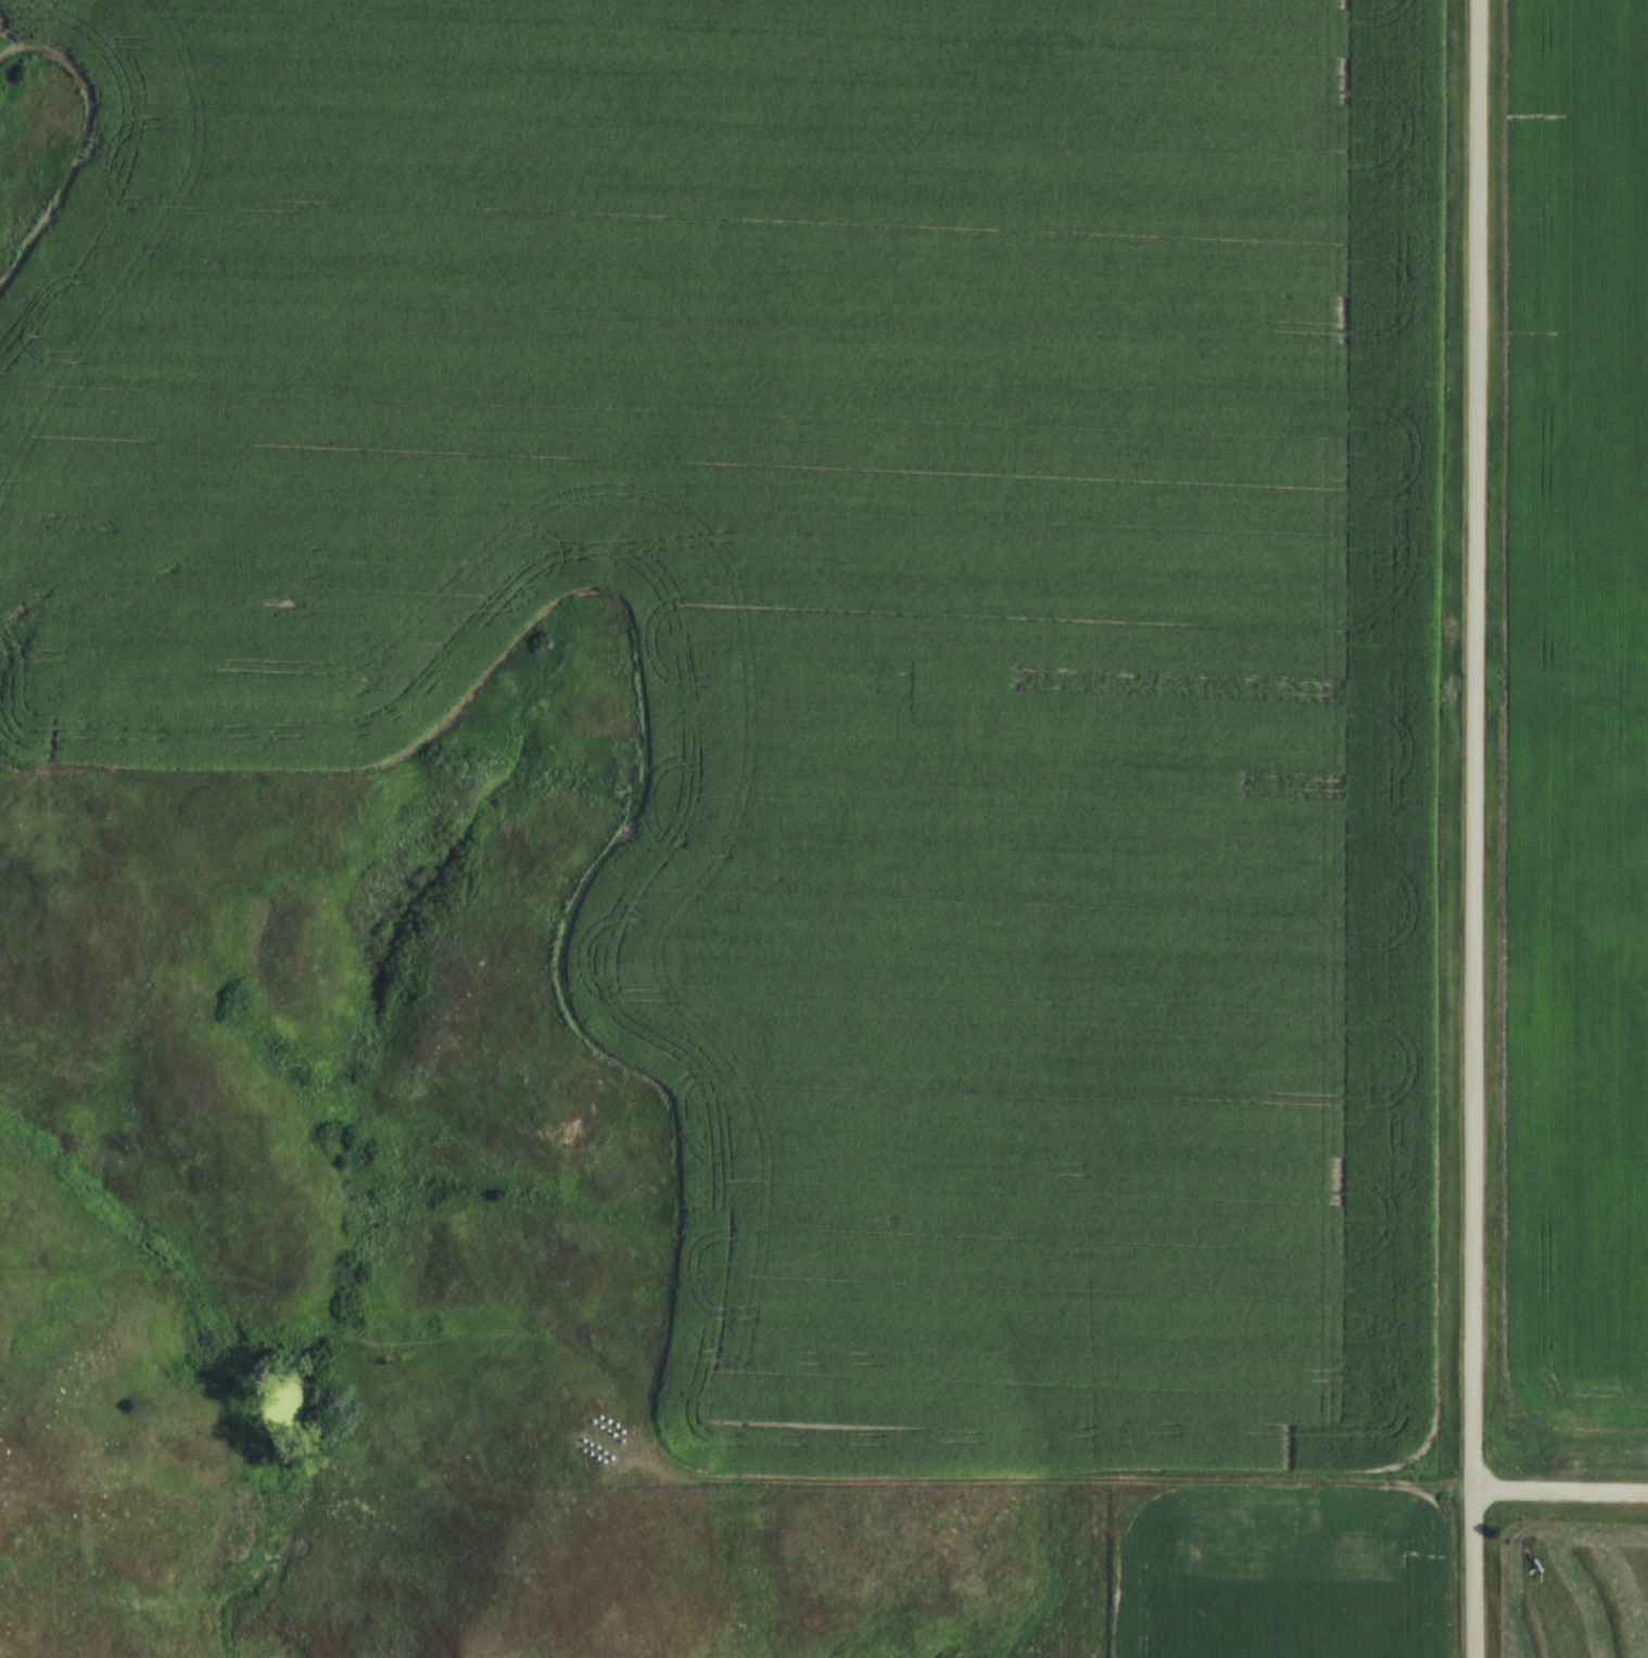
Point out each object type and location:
road: (1474, 829)
road: (1560, 1488)

